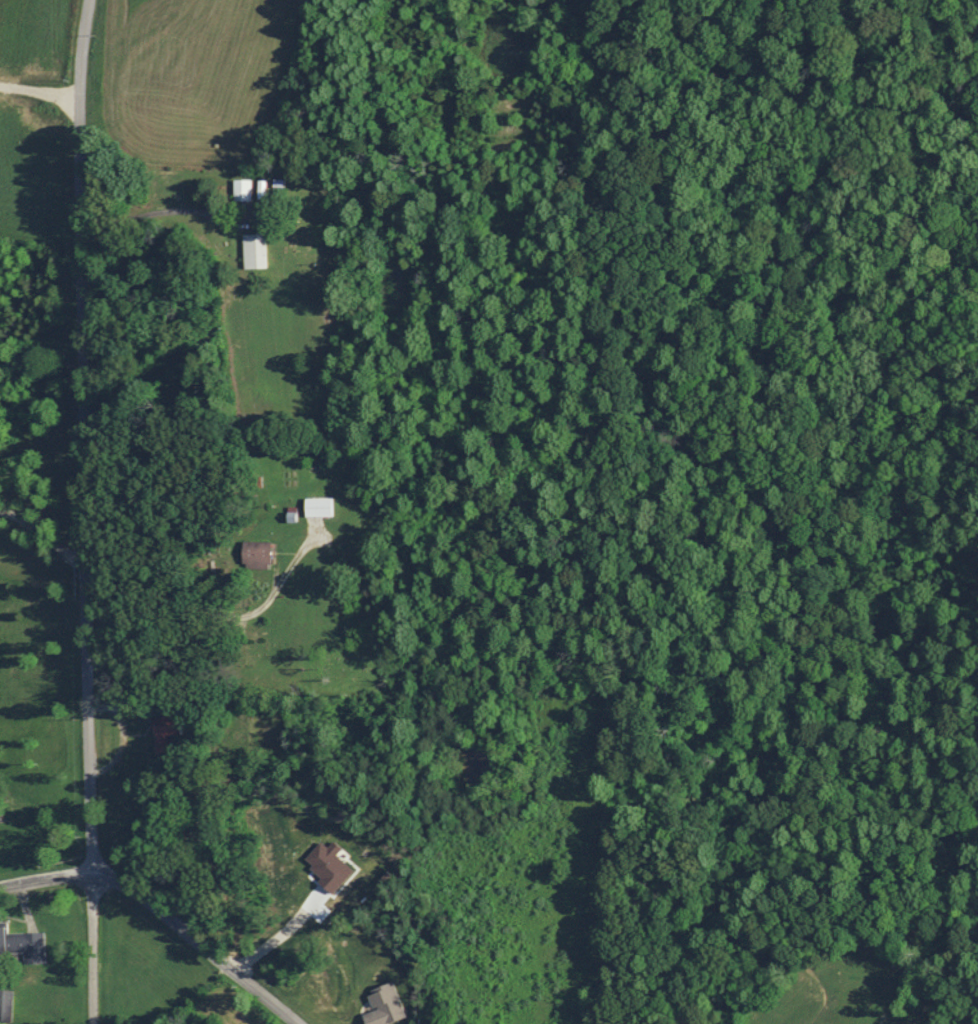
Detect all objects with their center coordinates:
building: (239, 190)
building: (252, 251)
road: (84, 437)
building: (316, 506)
building: (251, 552)
building: (164, 732)
road: (45, 878)
road: (196, 943)
building: (21, 946)
road: (92, 949)

